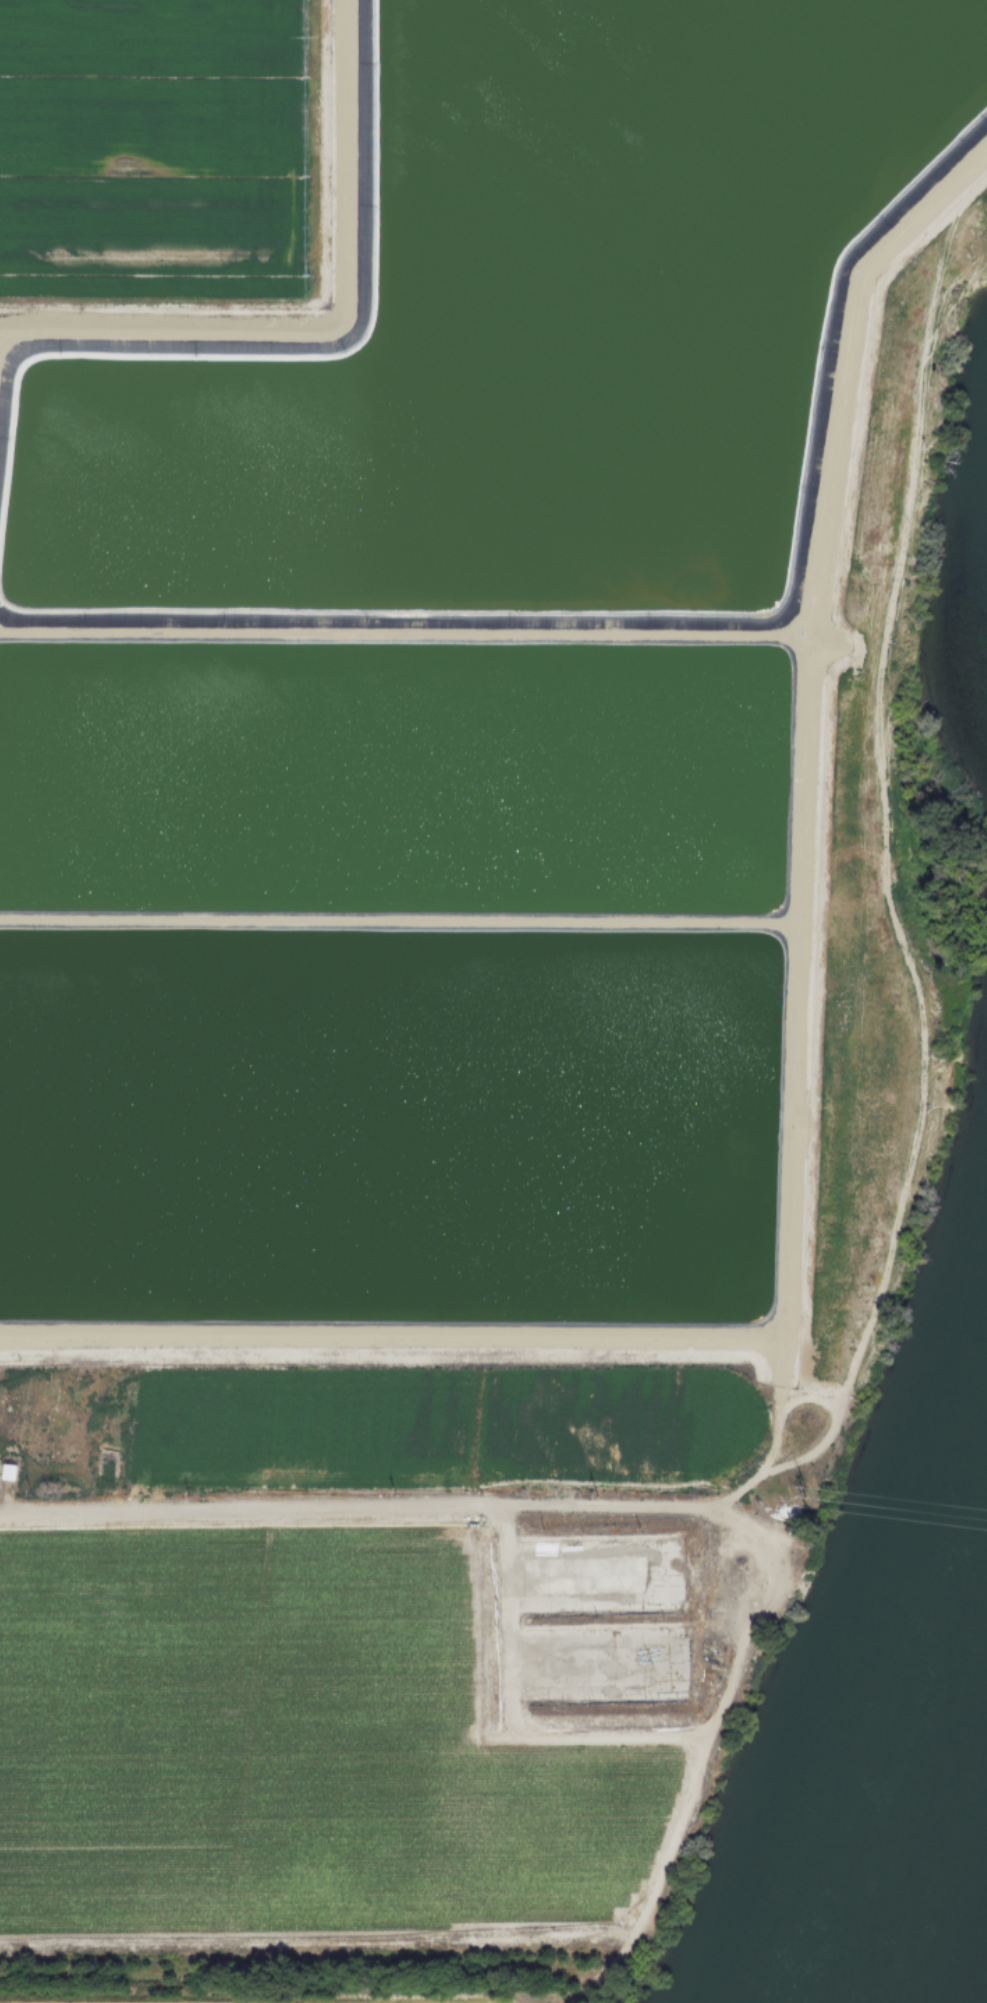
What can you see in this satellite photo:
road: (327, 323)
road: (822, 522)
road: (796, 625)
road: (383, 633)
road: (796, 644)
crop: (470, 732)
road: (881, 850)
road: (791, 913)
road: (379, 921)
road: (786, 929)
road: (576, 1338)
road: (779, 1393)
crop: (441, 1427)
building: (6, 1473)
road: (725, 1498)
road: (737, 1502)
road: (349, 1507)
road: (4, 1514)
road: (507, 1717)
crop: (285, 1739)
road: (706, 1745)
river: (972, 1962)
crop: (96, 1999)

